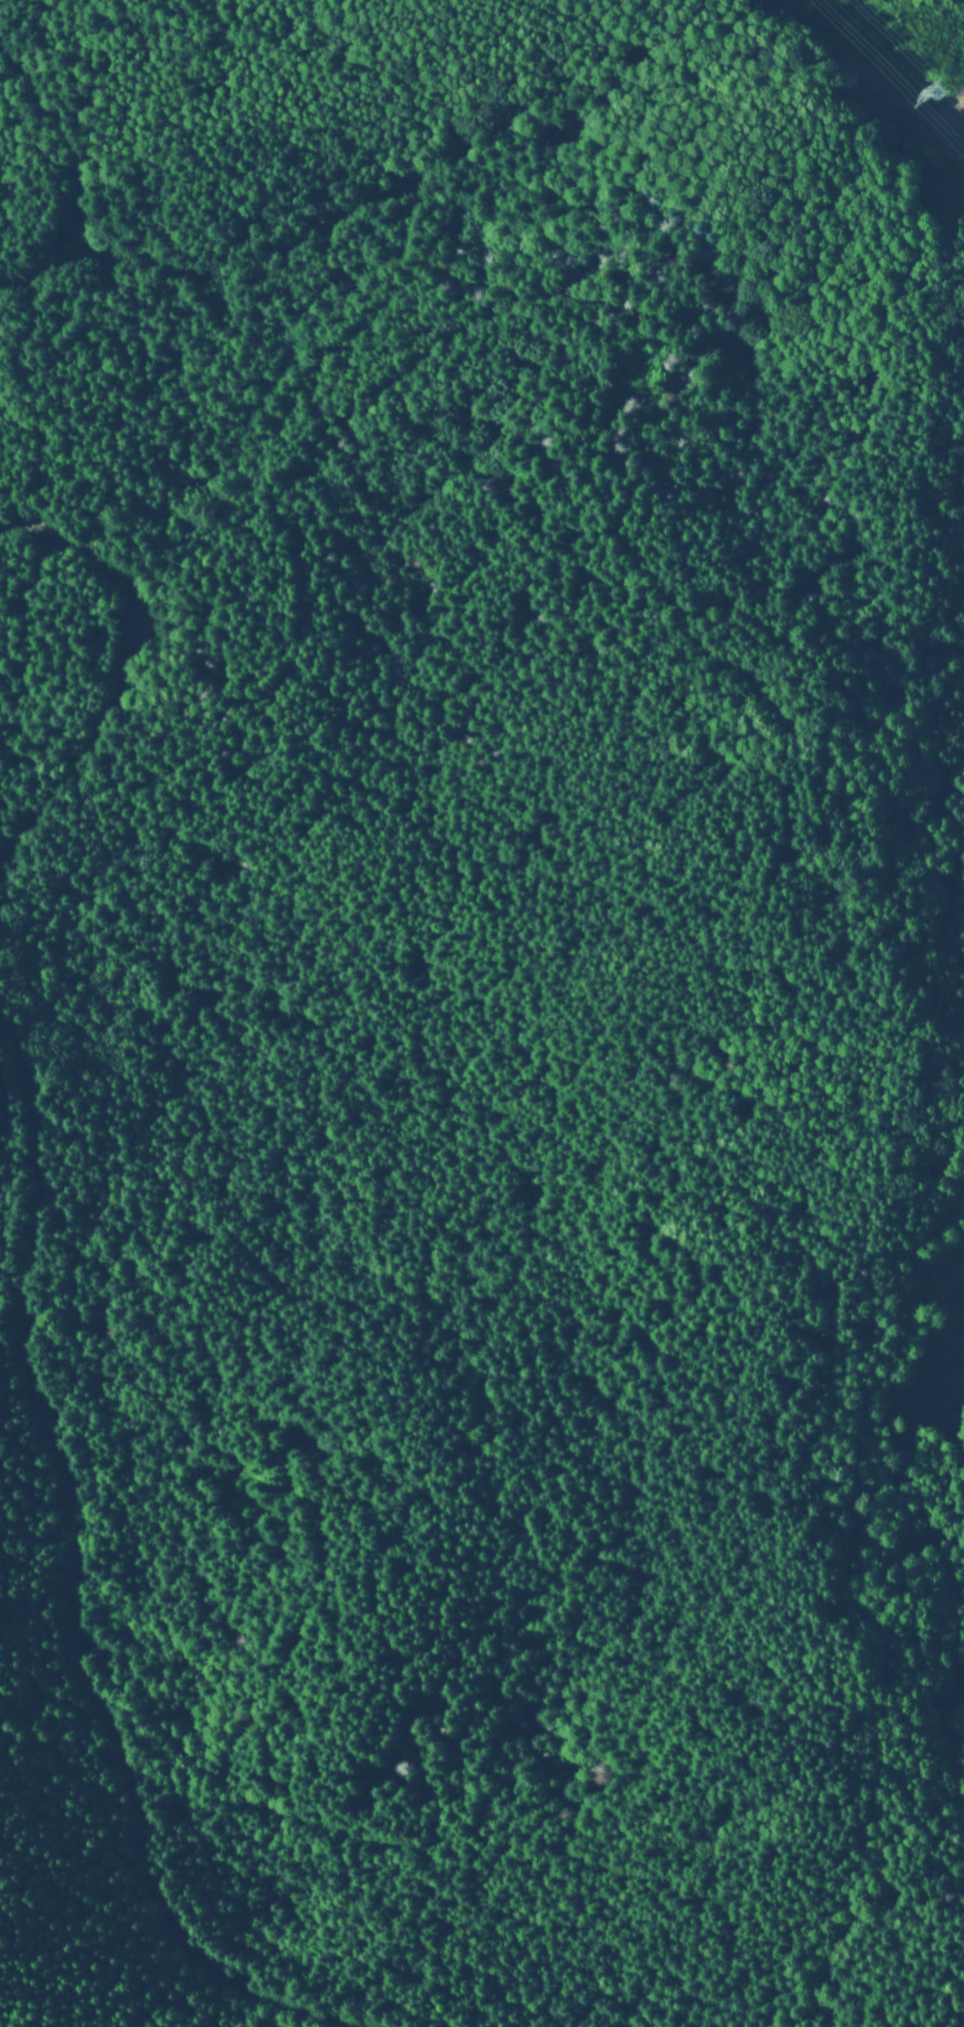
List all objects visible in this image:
road: (450, 88)
power tower: (942, 92)
road: (33, 194)
road: (56, 762)
road: (39, 1777)

